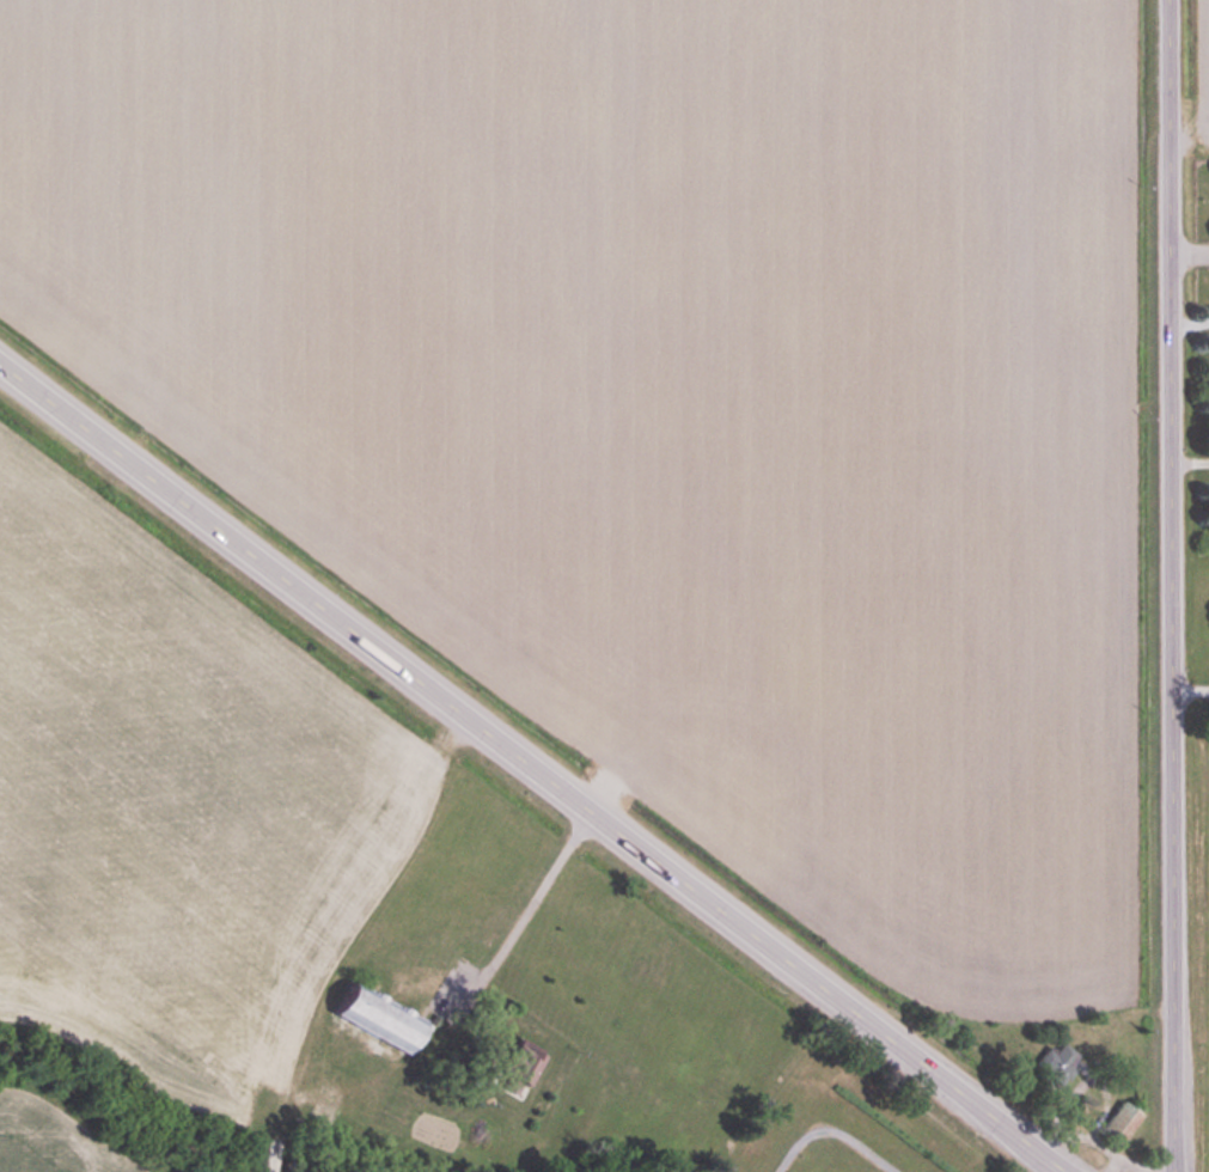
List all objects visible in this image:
road: (1191, 245)
road: (1173, 585)
road: (531, 765)
road: (524, 907)
building: (379, 1017)
building: (1057, 1064)
building: (515, 1066)
building: (1121, 1121)
park: (841, 1123)
building: (271, 1155)

